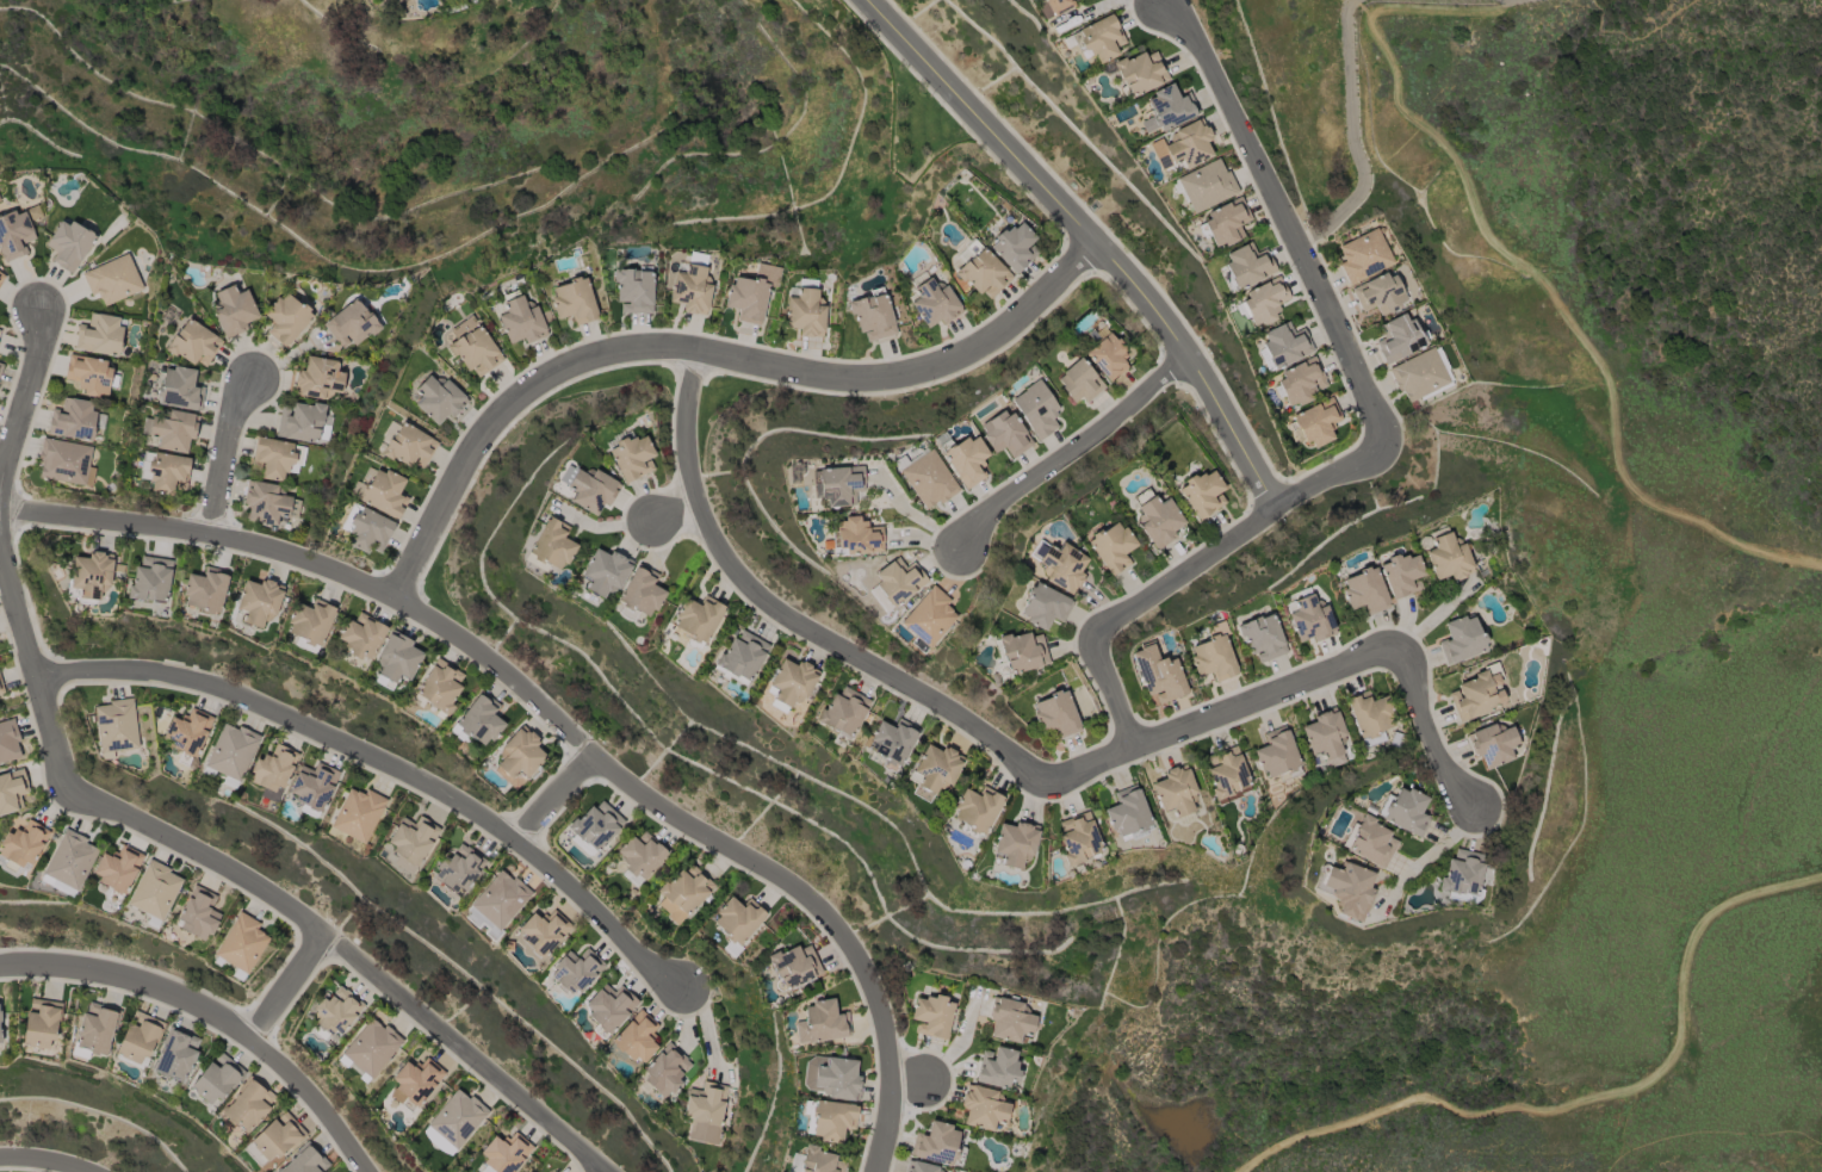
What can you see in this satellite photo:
building: (1037, 1)
road: (1350, 1)
road: (1355, 2)
road: (1361, 6)
building: (1054, 7)
road: (1436, 11)
road: (1367, 17)
building: (1101, 38)
building: (1140, 73)
building: (1169, 107)
road: (1352, 137)
building: (1183, 145)
building: (1203, 186)
road: (1281, 216)
building: (1225, 222)
building: (14, 235)
road: (1089, 237)
building: (69, 244)
building: (1014, 247)
building: (1364, 255)
building: (1245, 266)
building: (980, 269)
building: (1, 277)
building: (112, 279)
building: (692, 285)
building: (634, 290)
building: (1378, 293)
building: (750, 294)
building: (574, 300)
building: (1262, 302)
building: (935, 303)
building: (231, 310)
building: (805, 312)
building: (873, 315)
building: (286, 318)
building: (519, 318)
building: (351, 324)
building: (99, 334)
road: (1575, 334)
building: (1399, 337)
building: (192, 342)
building: (472, 346)
building: (1282, 346)
road: (705, 355)
building: (1105, 355)
building: (0, 367)
building: (89, 374)
building: (1421, 374)
building: (318, 378)
building: (1079, 382)
building: (1299, 382)
building: (179, 389)
road: (24, 392)
building: (438, 398)
building: (1035, 408)
building: (73, 420)
building: (303, 422)
building: (1315, 423)
building: (171, 430)
building: (1004, 434)
building: (407, 445)
road: (1072, 454)
building: (632, 455)
road: (219, 457)
building: (277, 458)
building: (963, 458)
building: (64, 461)
building: (163, 471)
road: (1332, 476)
building: (927, 477)
building: (838, 484)
building: (591, 490)
building: (380, 491)
building: (1201, 492)
building: (267, 503)
road: (667, 516)
building: (1155, 517)
building: (366, 528)
building: (854, 538)
building: (551, 545)
building: (1111, 547)
building: (1448, 558)
building: (1062, 566)
building: (605, 572)
road: (1190, 575)
building: (1400, 575)
building: (88, 577)
building: (150, 579)
building: (895, 583)
building: (206, 589)
building: (1365, 591)
building: (640, 593)
building: (258, 602)
building: (1043, 606)
building: (699, 618)
building: (928, 618)
building: (1308, 619)
road: (780, 622)
building: (309, 624)
building: (360, 635)
building: (1260, 637)
building: (1461, 639)
building: (1018, 653)
building: (1213, 653)
building: (740, 657)
building: (396, 659)
building: (1157, 672)
road: (30, 680)
building: (789, 683)
building: (436, 687)
building: (0, 688)
building: (1477, 694)
road: (1111, 695)
building: (842, 713)
building: (1370, 713)
building: (1055, 714)
road: (1219, 717)
building: (478, 720)
road: (551, 723)
building: (116, 726)
road: (1429, 732)
building: (187, 733)
building: (1325, 738)
building: (8, 740)
building: (891, 742)
building: (1493, 744)
building: (230, 754)
building: (1277, 756)
building: (518, 757)
road: (384, 765)
building: (273, 770)
building: (932, 771)
building: (1226, 773)
building: (312, 787)
building: (12, 790)
building: (1176, 793)
road: (550, 800)
building: (975, 811)
building: (1407, 812)
building: (357, 813)
building: (1128, 814)
building: (594, 827)
building: (414, 839)
building: (1078, 839)
building: (1369, 841)
building: (1015, 843)
building: (21, 844)
road: (1429, 855)
building: (639, 857)
building: (69, 860)
building: (458, 868)
building: (117, 870)
building: (1465, 875)
building: (1346, 887)
building: (154, 889)
building: (682, 893)
building: (496, 905)
building: (197, 913)
building: (736, 922)
building: (543, 931)
building: (241, 944)
road: (349, 956)
building: (793, 966)
building: (575, 971)
road: (286, 987)
building: (608, 1009)
building: (335, 1012)
road: (212, 1013)
building: (931, 1016)
building: (1009, 1019)
building: (41, 1023)
building: (822, 1023)
building: (95, 1029)
building: (0, 1036)
building: (138, 1037)
building: (636, 1037)
building: (370, 1049)
building: (175, 1054)
building: (997, 1068)
building: (665, 1071)
building: (216, 1078)
building: (831, 1078)
building: (414, 1083)
road: (904, 1083)
road: (1587, 1102)
building: (247, 1105)
building: (983, 1108)
building: (705, 1111)
building: (829, 1120)
building: (454, 1122)
road: (1622, 1130)
building: (273, 1139)
building: (938, 1145)
building: (504, 1153)
building: (304, 1160)
building: (818, 1161)
road: (41, 1162)
building: (919, 1167)

